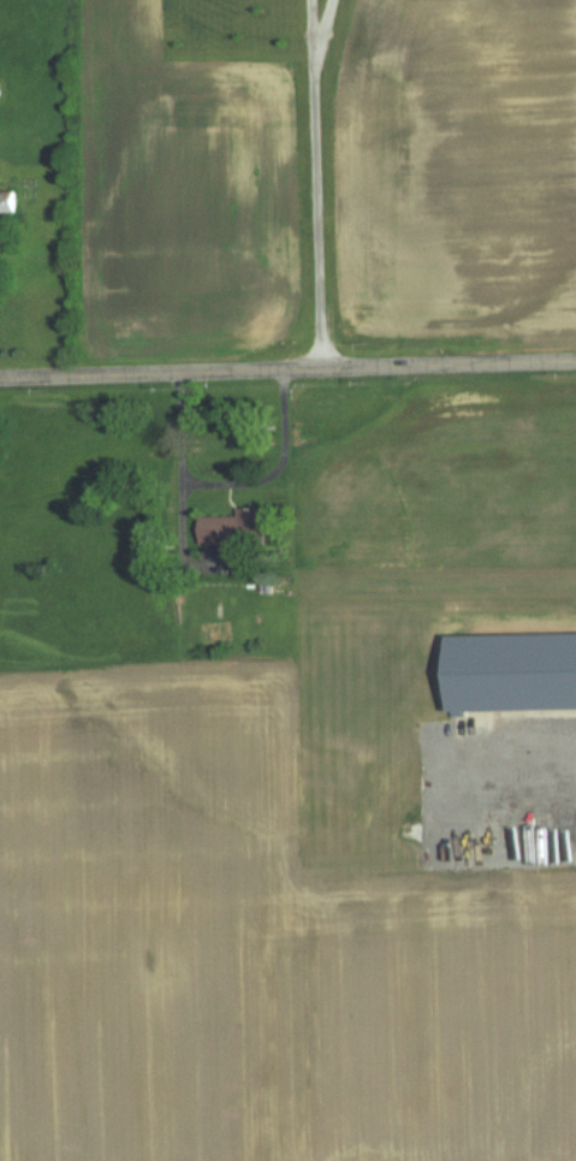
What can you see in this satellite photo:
road: (308, 26)
road: (319, 26)
building: (8, 202)
road: (315, 209)
road: (287, 366)
road: (230, 478)
building: (238, 529)
building: (516, 674)
road: (518, 753)

